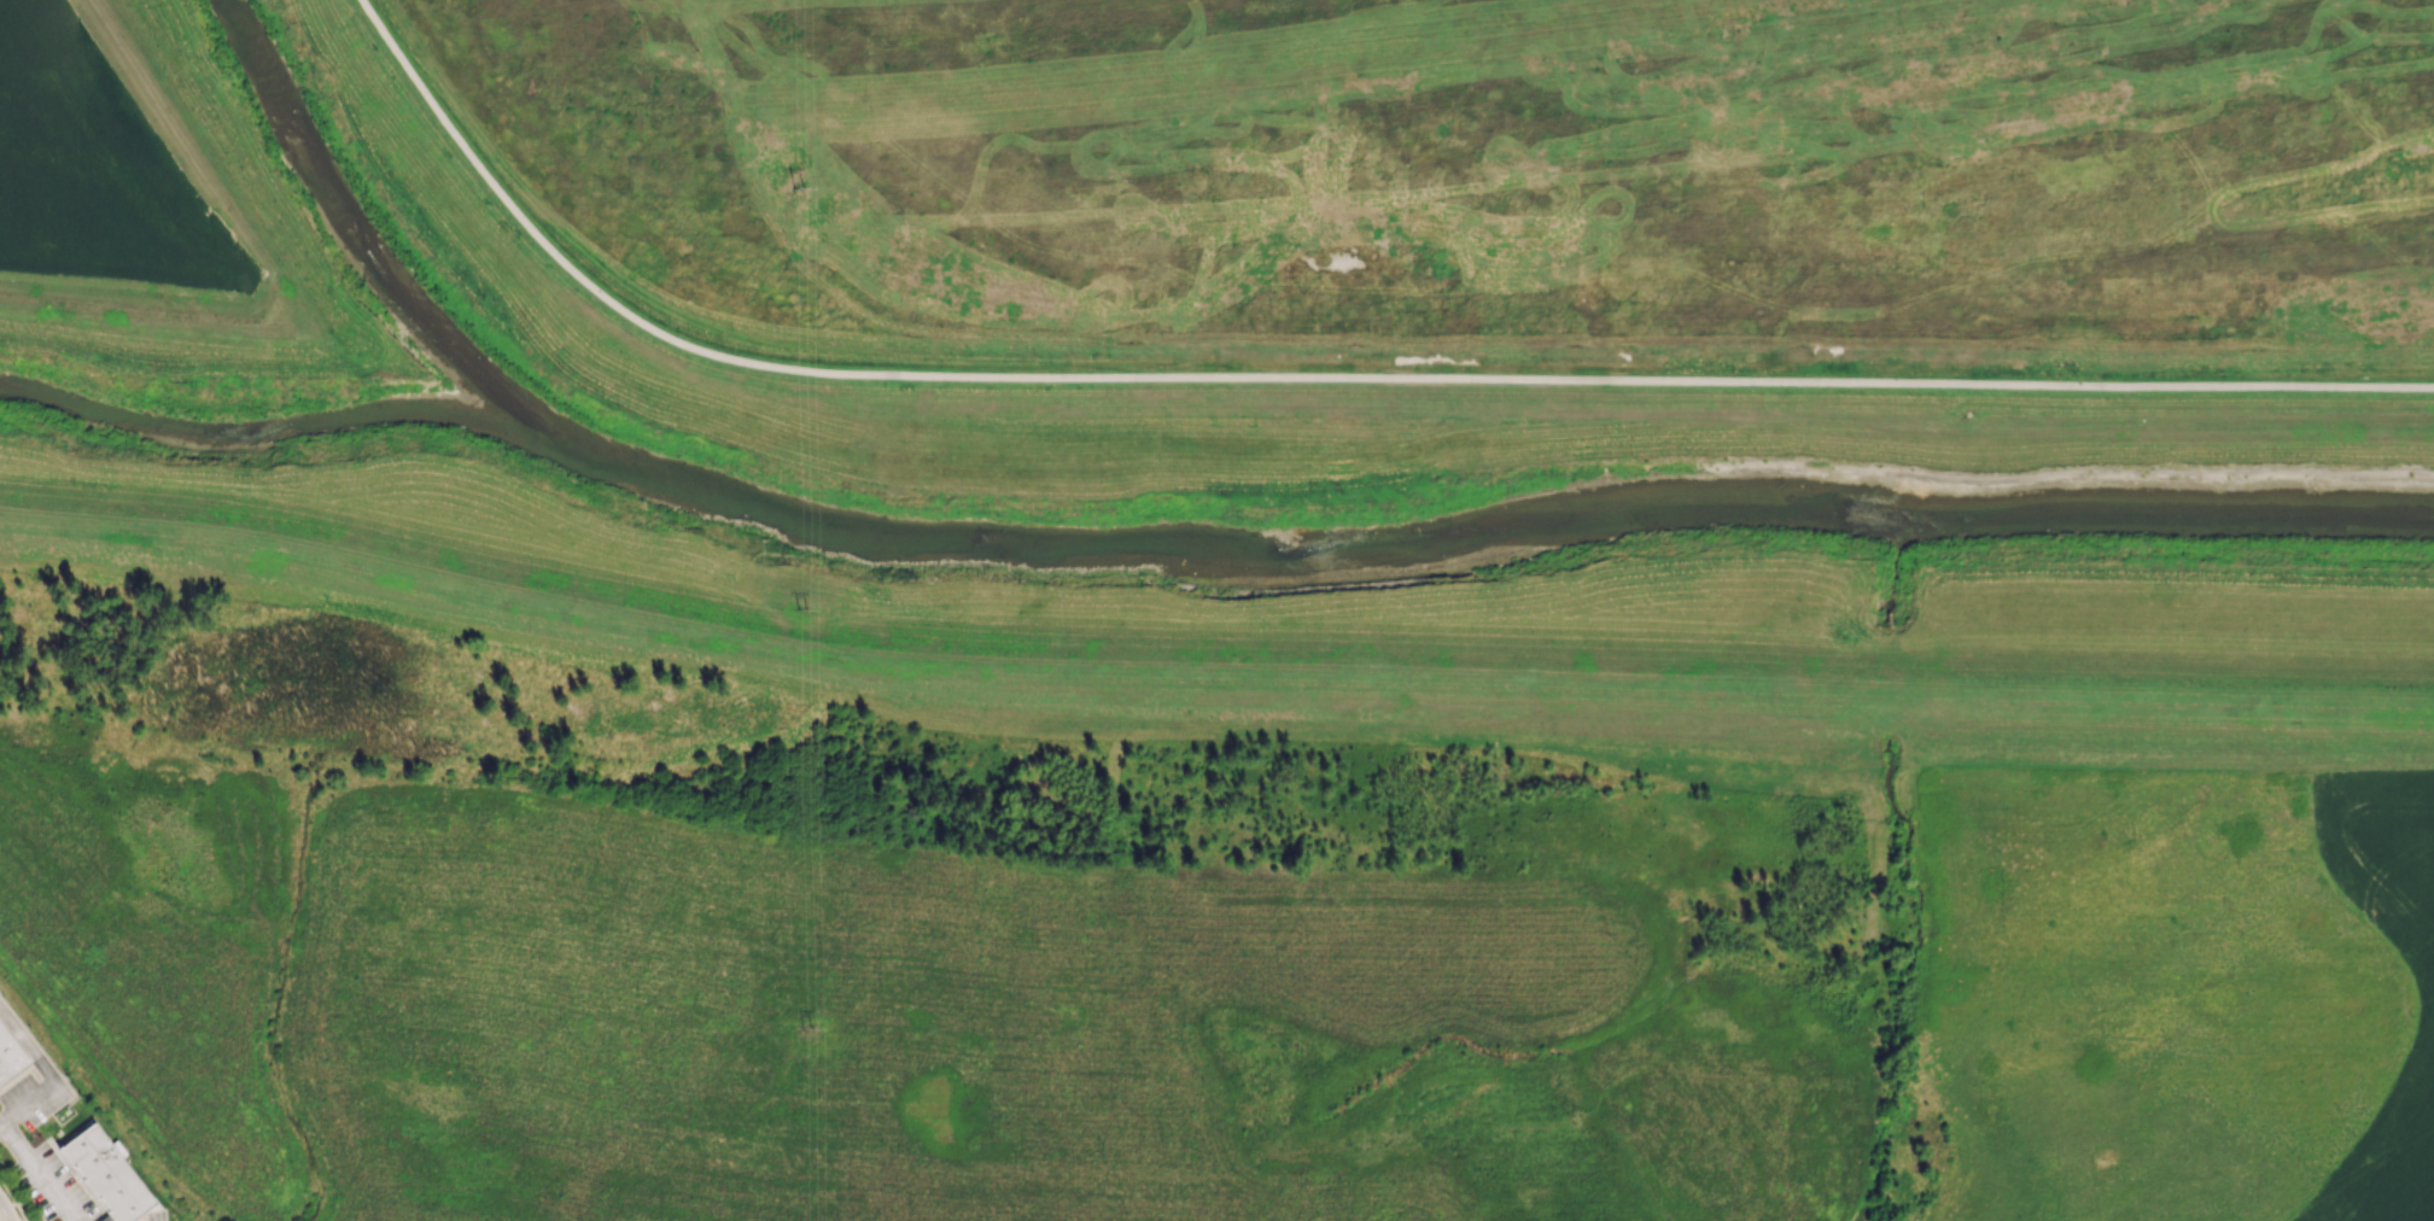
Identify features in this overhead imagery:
road: (200, 162)
power tower: (805, 170)
river: (356, 229)
road: (1318, 378)
river: (263, 425)
river: (2164, 516)
road: (140, 524)
river: (1203, 549)
power tower: (809, 608)
road: (1352, 670)
power tower: (816, 1032)
building: (11, 1057)
building: (105, 1174)
road: (36, 1178)
road: (12, 1199)
road: (1, 1217)
building: (103, 1219)

